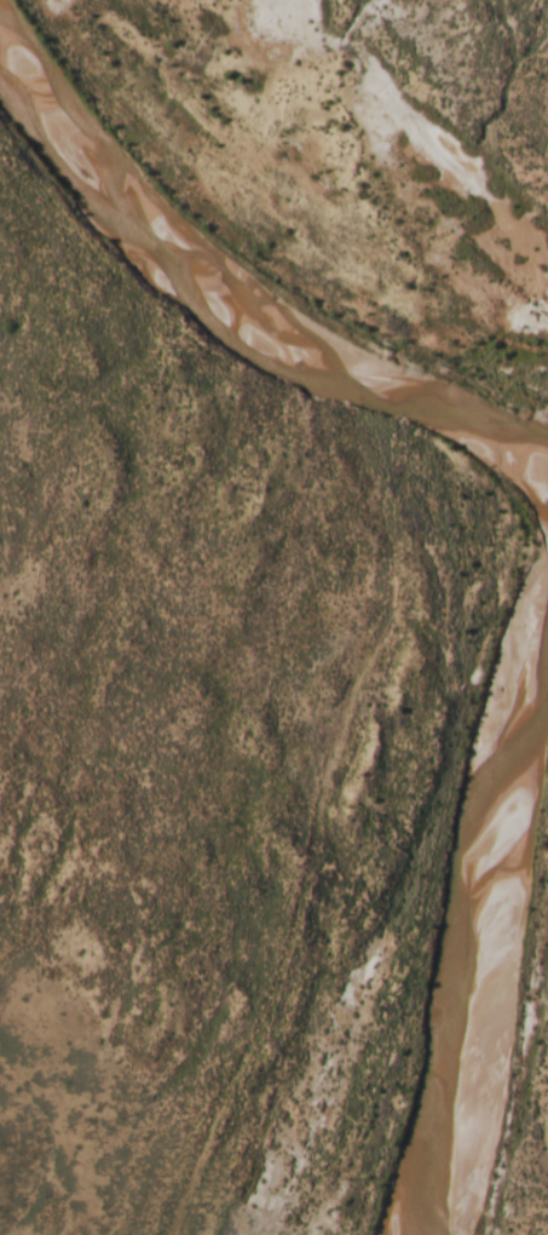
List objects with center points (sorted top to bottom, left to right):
river: (229, 308)
river: (488, 914)

